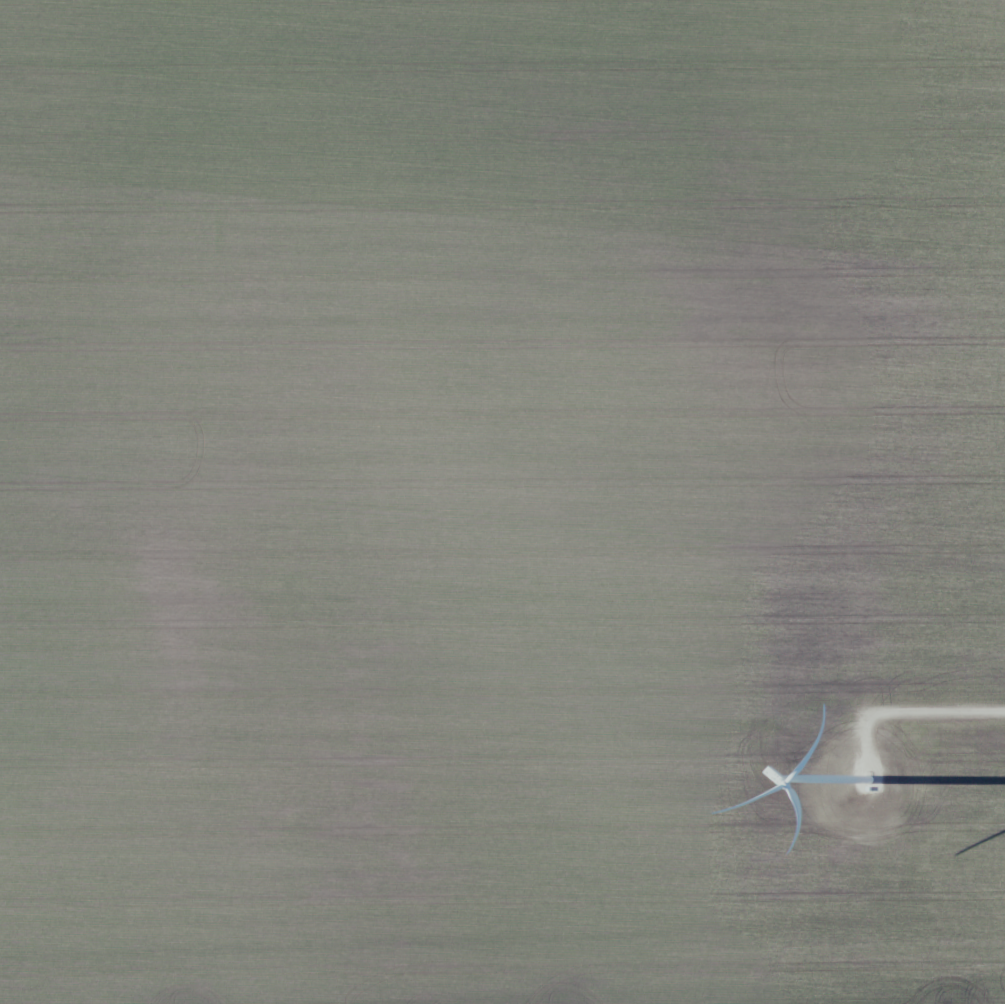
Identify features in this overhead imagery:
wind turbine: (876, 776)

